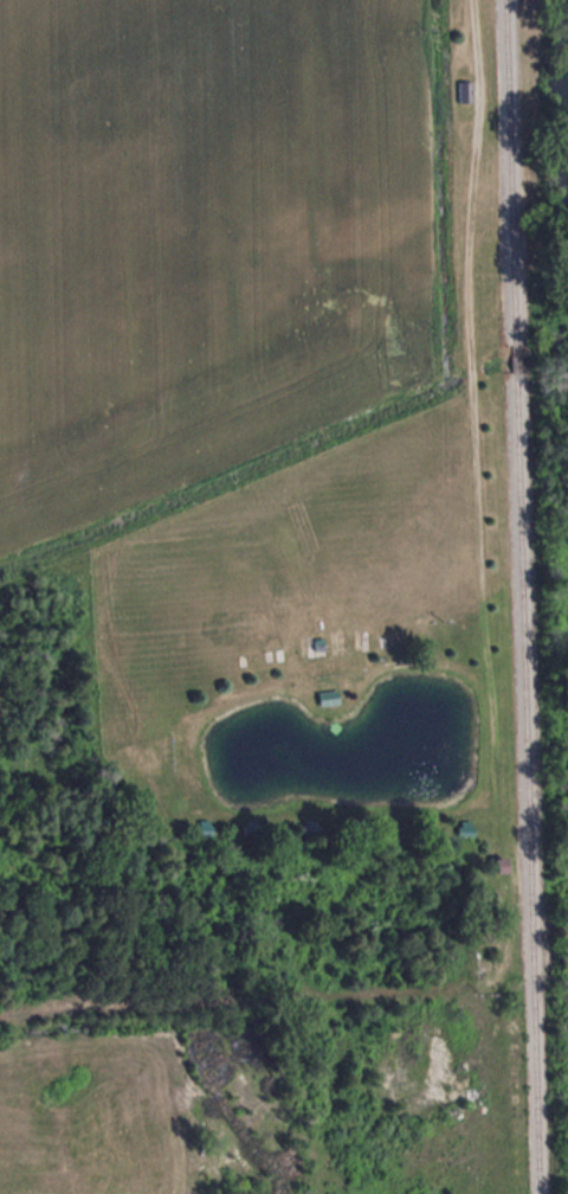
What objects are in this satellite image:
building: (465, 91)
railway: (512, 172)
railway: (517, 358)
railway: (528, 783)
building: (501, 864)

